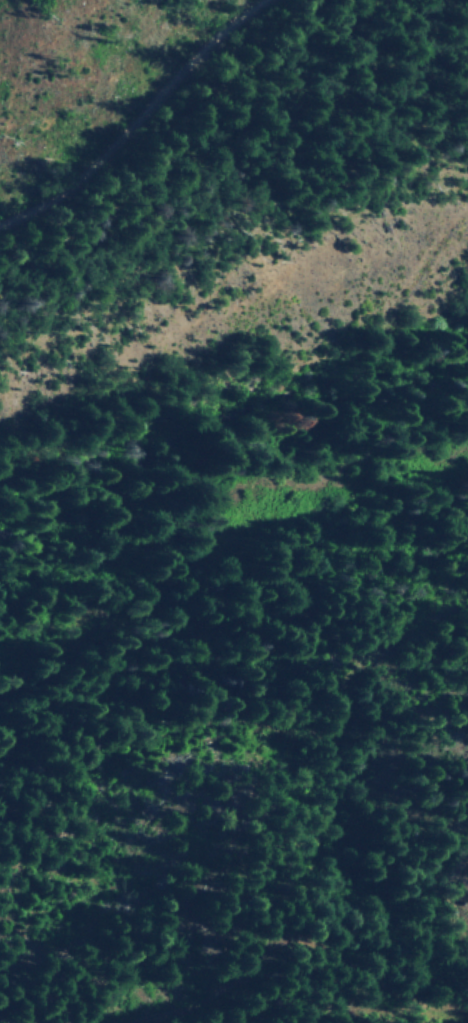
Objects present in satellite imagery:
road: (140, 129)
road: (240, 739)

